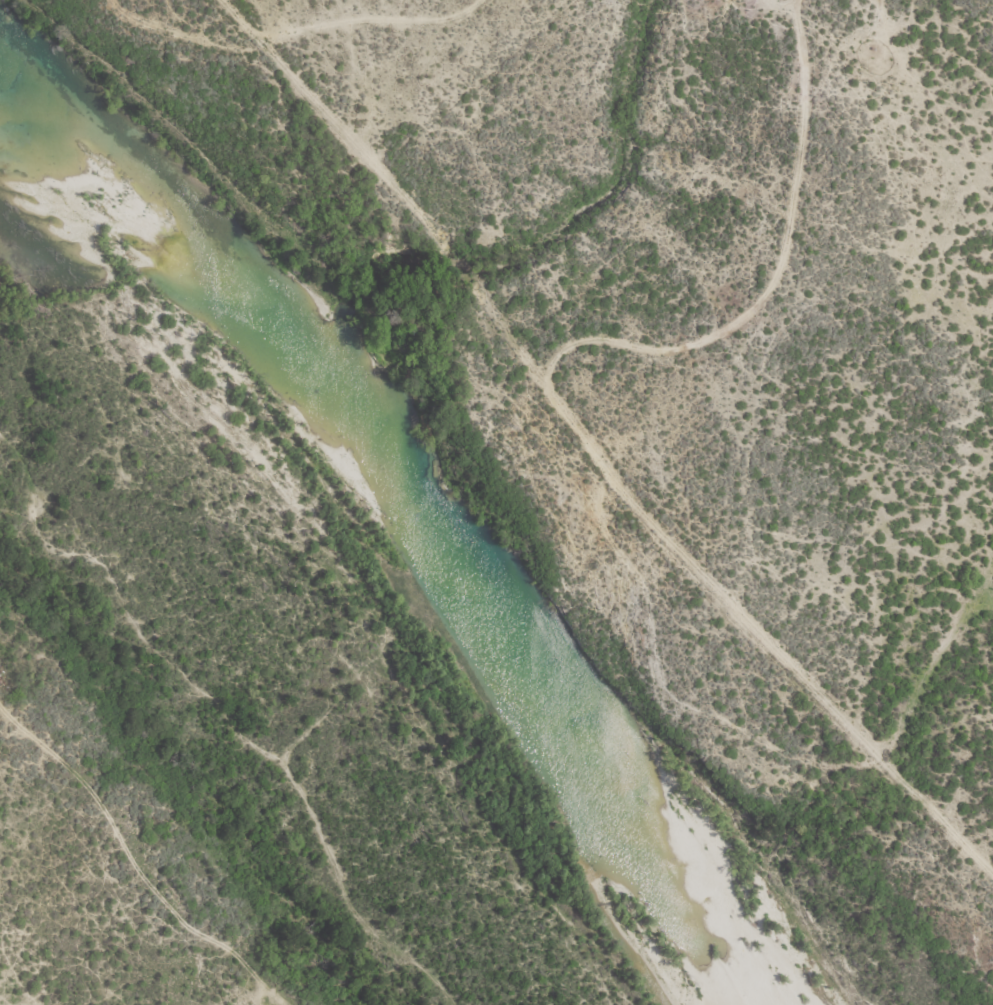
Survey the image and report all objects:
river: (393, 506)

